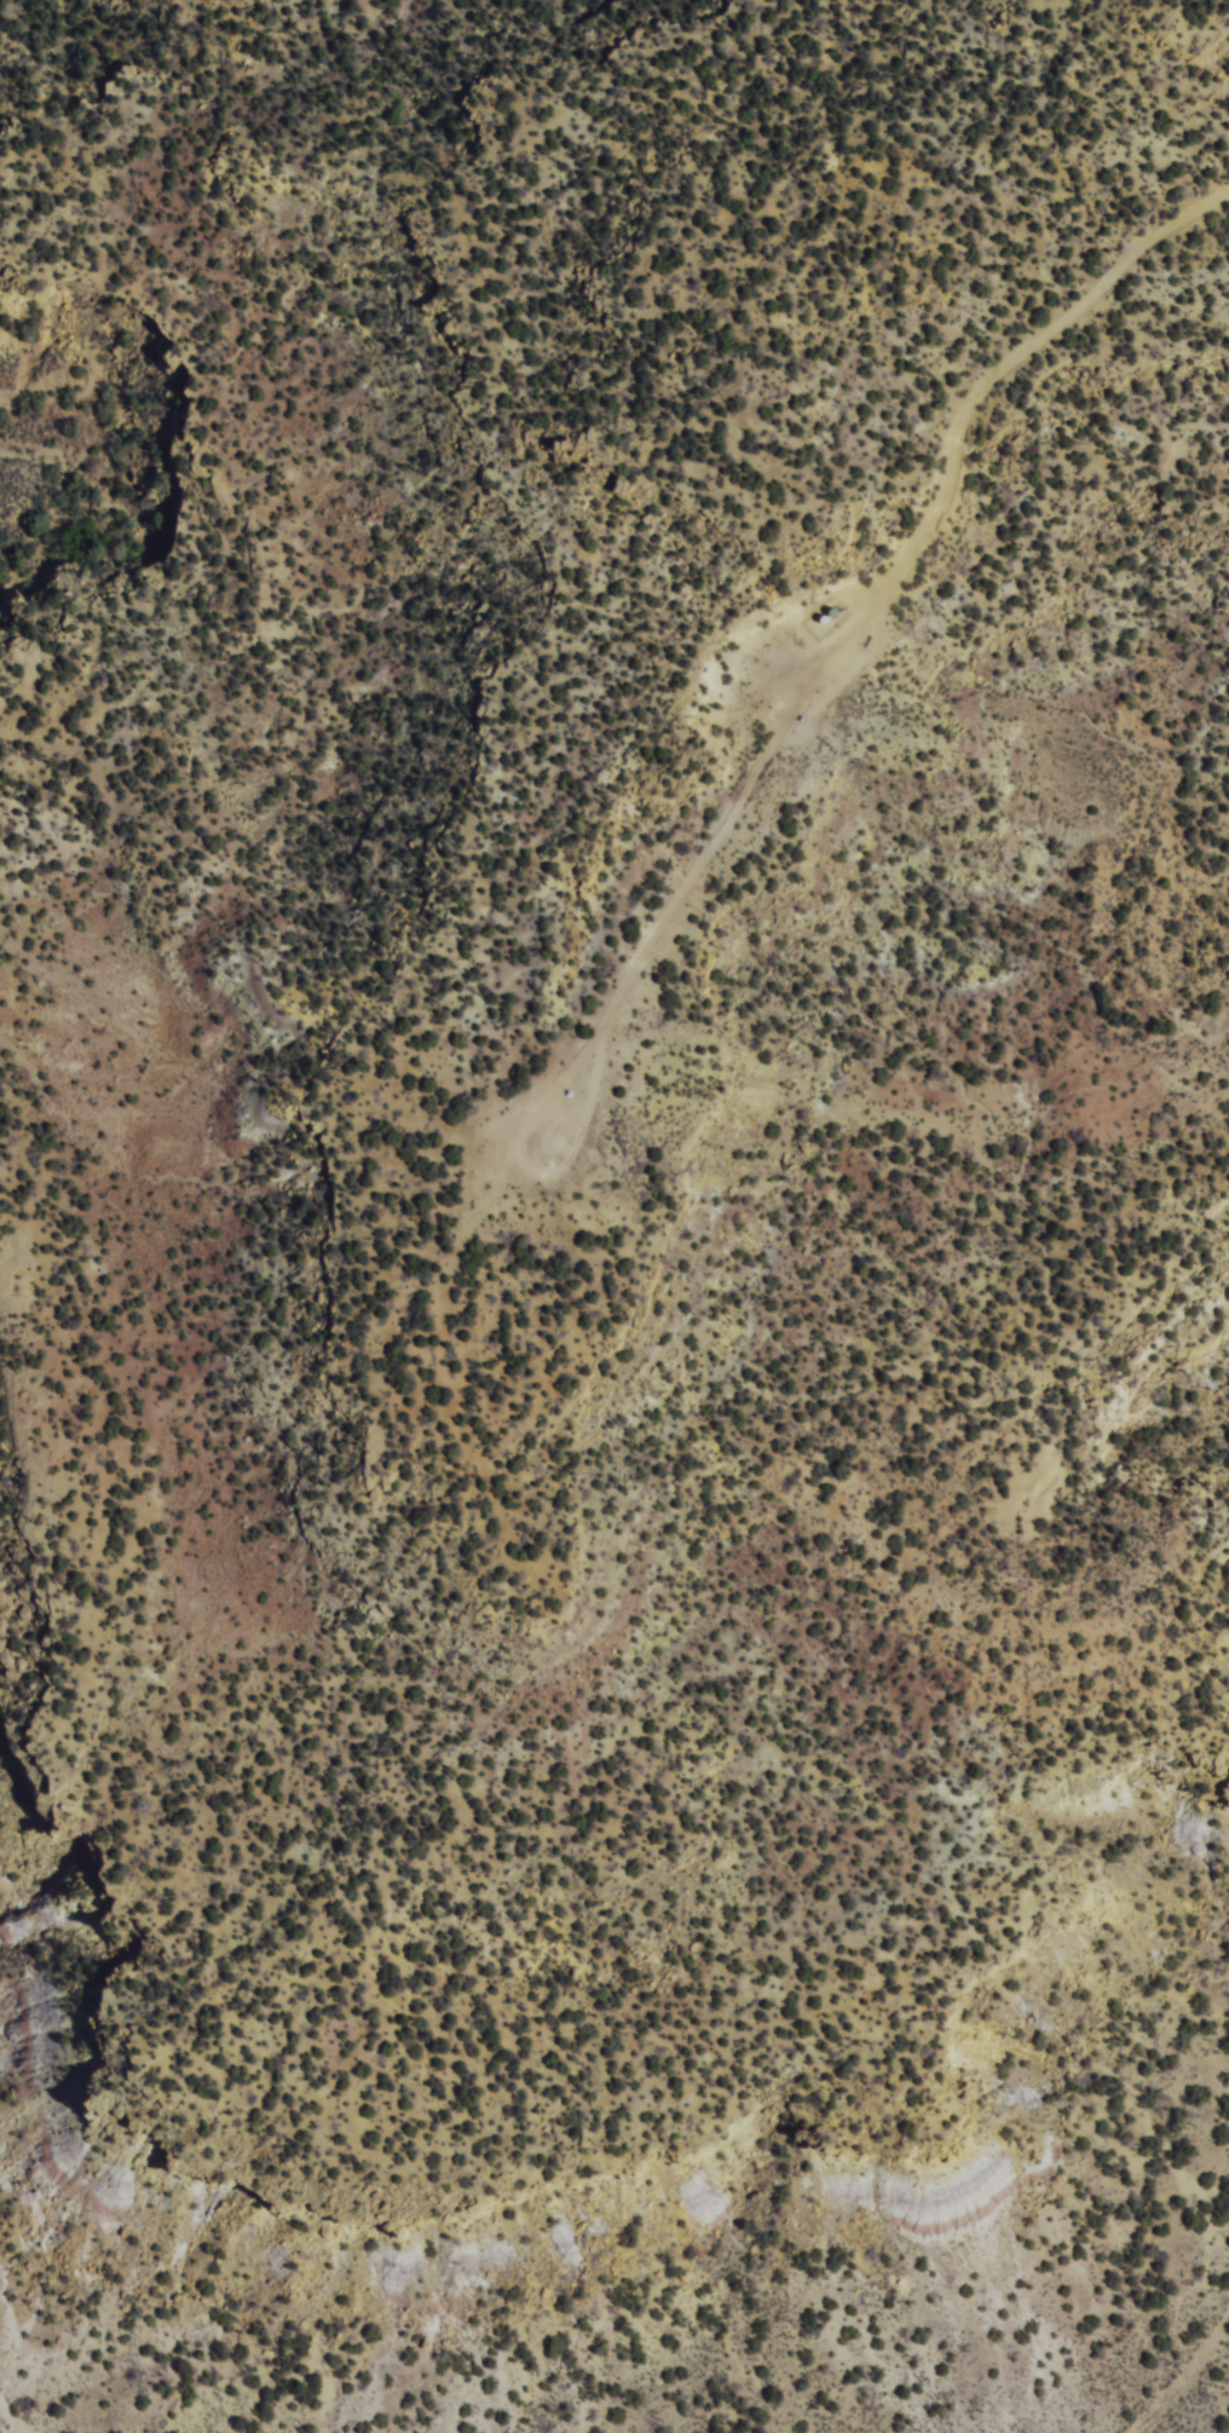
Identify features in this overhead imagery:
road: (734, 875)

